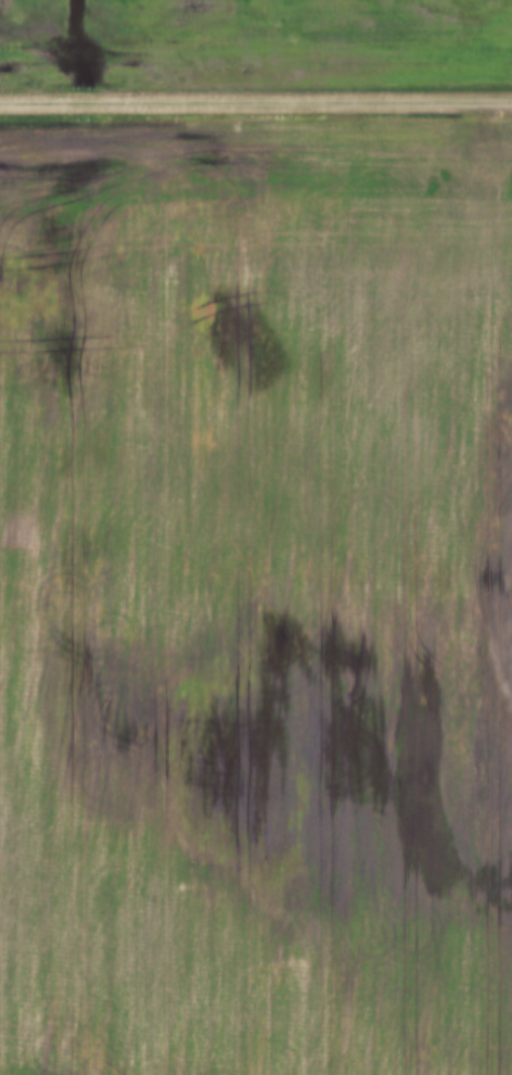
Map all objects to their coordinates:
road: (255, 89)

